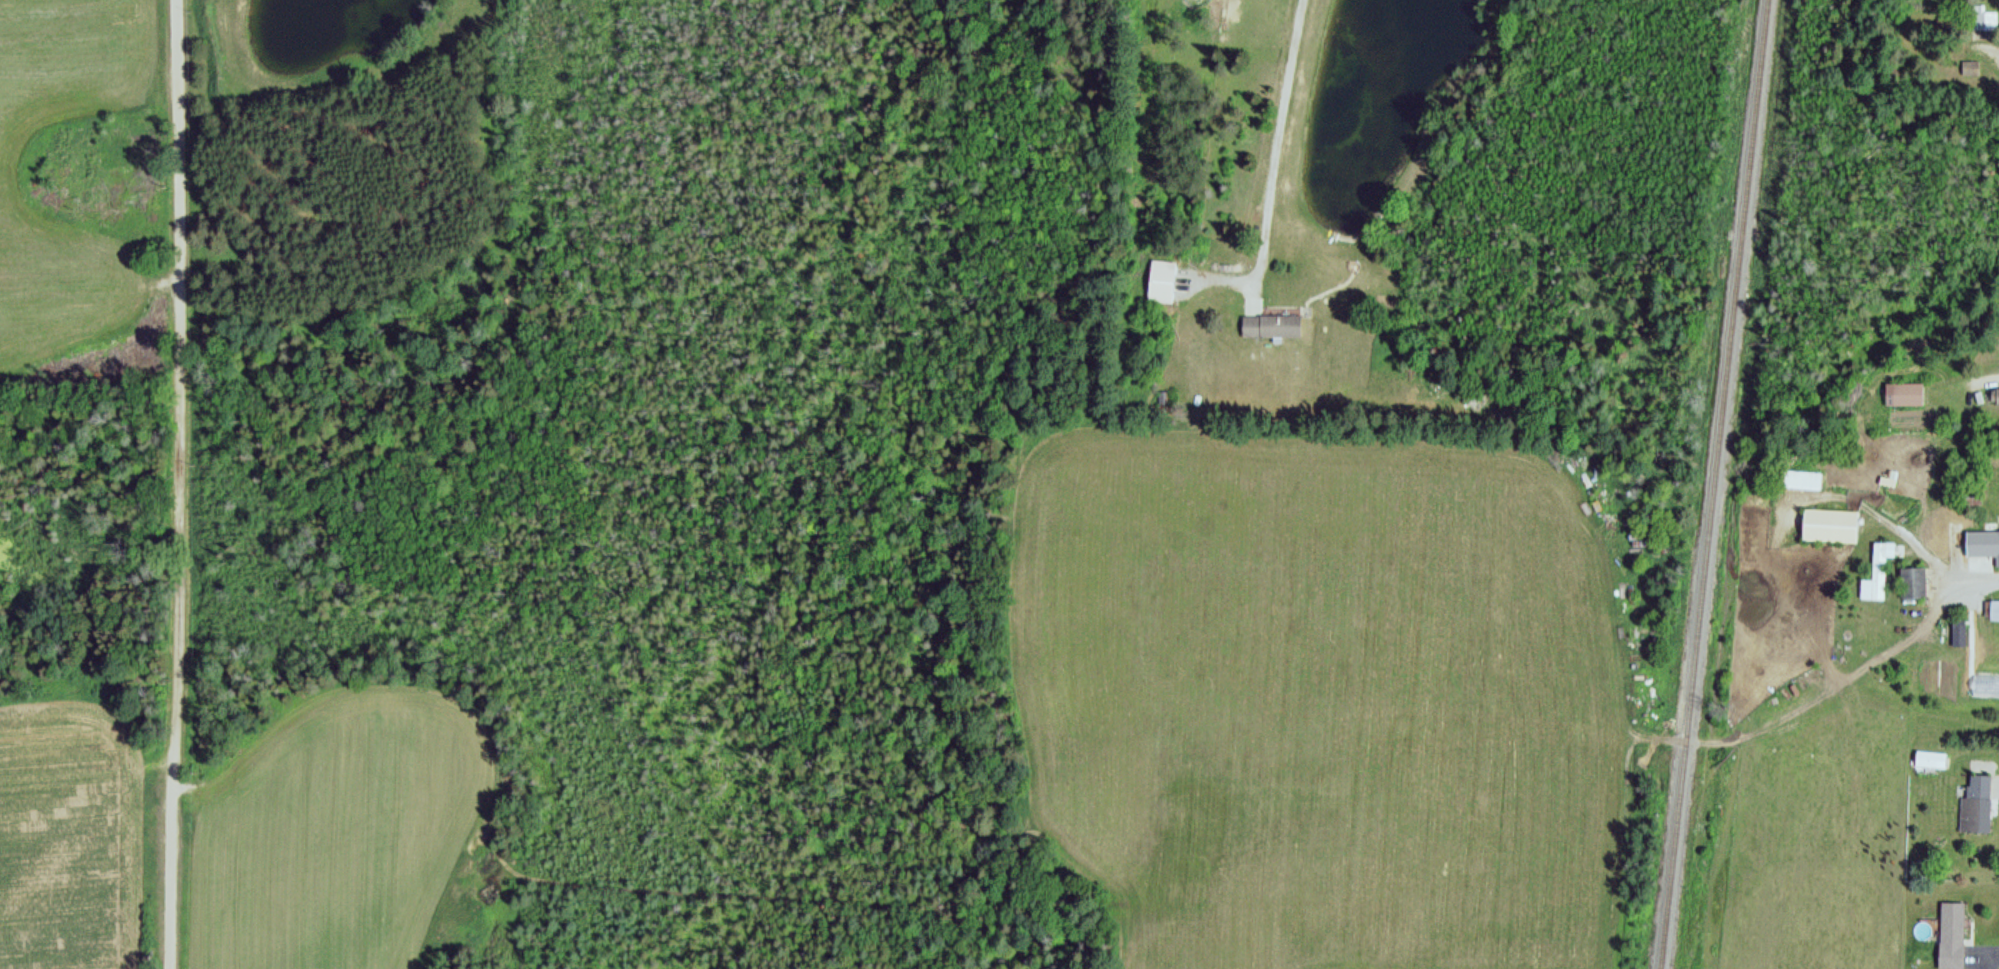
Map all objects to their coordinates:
building: (1977, 13)
building: (1984, 21)
road: (1987, 48)
building: (1969, 64)
road: (1274, 151)
building: (1162, 279)
building: (1271, 322)
building: (1904, 392)
building: (1994, 393)
road: (181, 484)
railway: (1709, 484)
building: (1827, 524)
building: (1943, 533)
building: (1995, 544)
road: (1923, 553)
building: (1874, 572)
building: (1911, 579)
building: (1990, 609)
building: (1955, 621)
building: (1927, 756)
building: (1973, 804)
building: (1949, 932)
road: (1982, 955)

